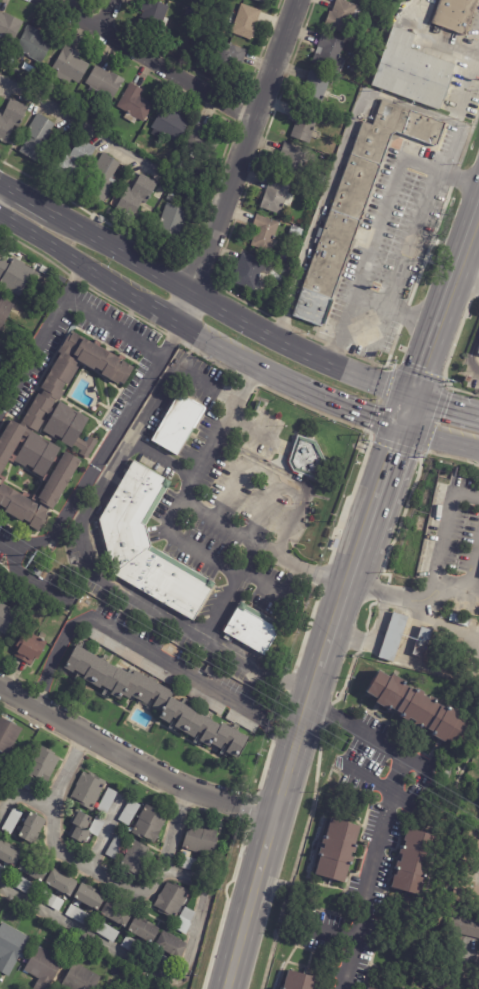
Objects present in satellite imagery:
building: (366, 0)
building: (260, 1)
building: (187, 14)
road: (108, 15)
building: (454, 15)
building: (344, 16)
building: (154, 17)
building: (247, 23)
building: (9, 28)
road: (432, 38)
building: (196, 40)
building: (34, 46)
road: (477, 47)
building: (330, 54)
building: (362, 58)
road: (152, 60)
building: (229, 61)
building: (71, 65)
building: (412, 72)
building: (105, 82)
building: (344, 87)
building: (316, 89)
building: (136, 104)
building: (11, 120)
building: (171, 124)
building: (305, 125)
building: (38, 139)
building: (202, 142)
road: (110, 143)
road: (344, 146)
building: (75, 161)
road: (238, 161)
building: (292, 161)
building: (104, 179)
road: (0, 184)
road: (0, 185)
building: (137, 197)
building: (171, 198)
building: (277, 198)
road: (26, 199)
building: (356, 202)
road: (380, 222)
building: (171, 223)
building: (295, 232)
building: (265, 234)
road: (415, 243)
building: (46, 271)
building: (257, 273)
building: (15, 276)
road: (468, 278)
building: (62, 279)
building: (50, 294)
road: (144, 303)
road: (445, 305)
building: (5, 309)
road: (395, 313)
road: (227, 314)
road: (113, 330)
road: (41, 342)
building: (478, 351)
road: (471, 353)
traffic signals: (412, 399)
road: (346, 407)
road: (445, 407)
road: (407, 413)
road: (223, 424)
building: (179, 425)
traffic signals: (402, 428)
building: (55, 431)
road: (440, 438)
road: (109, 442)
road: (136, 445)
building: (306, 458)
road: (295, 479)
road: (380, 490)
road: (216, 521)
road: (11, 541)
building: (148, 545)
road: (250, 546)
building: (99, 548)
power tower: (27, 558)
road: (472, 561)
road: (435, 567)
road: (311, 571)
building: (39, 572)
road: (449, 586)
road: (272, 589)
road: (472, 591)
railway: (348, 604)
road: (339, 611)
building: (8, 620)
building: (252, 628)
road: (373, 633)
building: (396, 637)
road: (128, 639)
building: (422, 640)
building: (32, 647)
road: (256, 666)
building: (156, 671)
building: (212, 672)
building: (155, 701)
building: (419, 708)
building: (243, 721)
road: (280, 721)
road: (275, 732)
building: (8, 733)
road: (133, 761)
building: (43, 763)
building: (0, 766)
building: (24, 780)
building: (88, 789)
road: (50, 793)
building: (108, 800)
building: (130, 812)
building: (13, 820)
road: (380, 820)
building: (150, 823)
building: (32, 826)
building: (82, 827)
road: (270, 829)
building: (470, 838)
building: (202, 839)
building: (117, 846)
building: (338, 850)
building: (9, 854)
building: (140, 858)
building: (414, 861)
building: (193, 864)
building: (34, 869)
road: (92, 869)
building: (4, 872)
building: (62, 883)
building: (24, 884)
building: (467, 895)
building: (89, 898)
building: (51, 899)
building: (172, 899)
building: (79, 914)
building: (117, 914)
building: (186, 919)
building: (465, 926)
building: (106, 930)
building: (144, 931)
building: (135, 946)
building: (171, 946)
building: (10, 947)
building: (100, 955)
building: (162, 961)
road: (184, 966)
building: (44, 967)
building: (135, 977)
building: (81, 978)
building: (299, 981)
building: (453, 982)
building: (108, 988)
building: (367, 988)
building: (370, 988)

